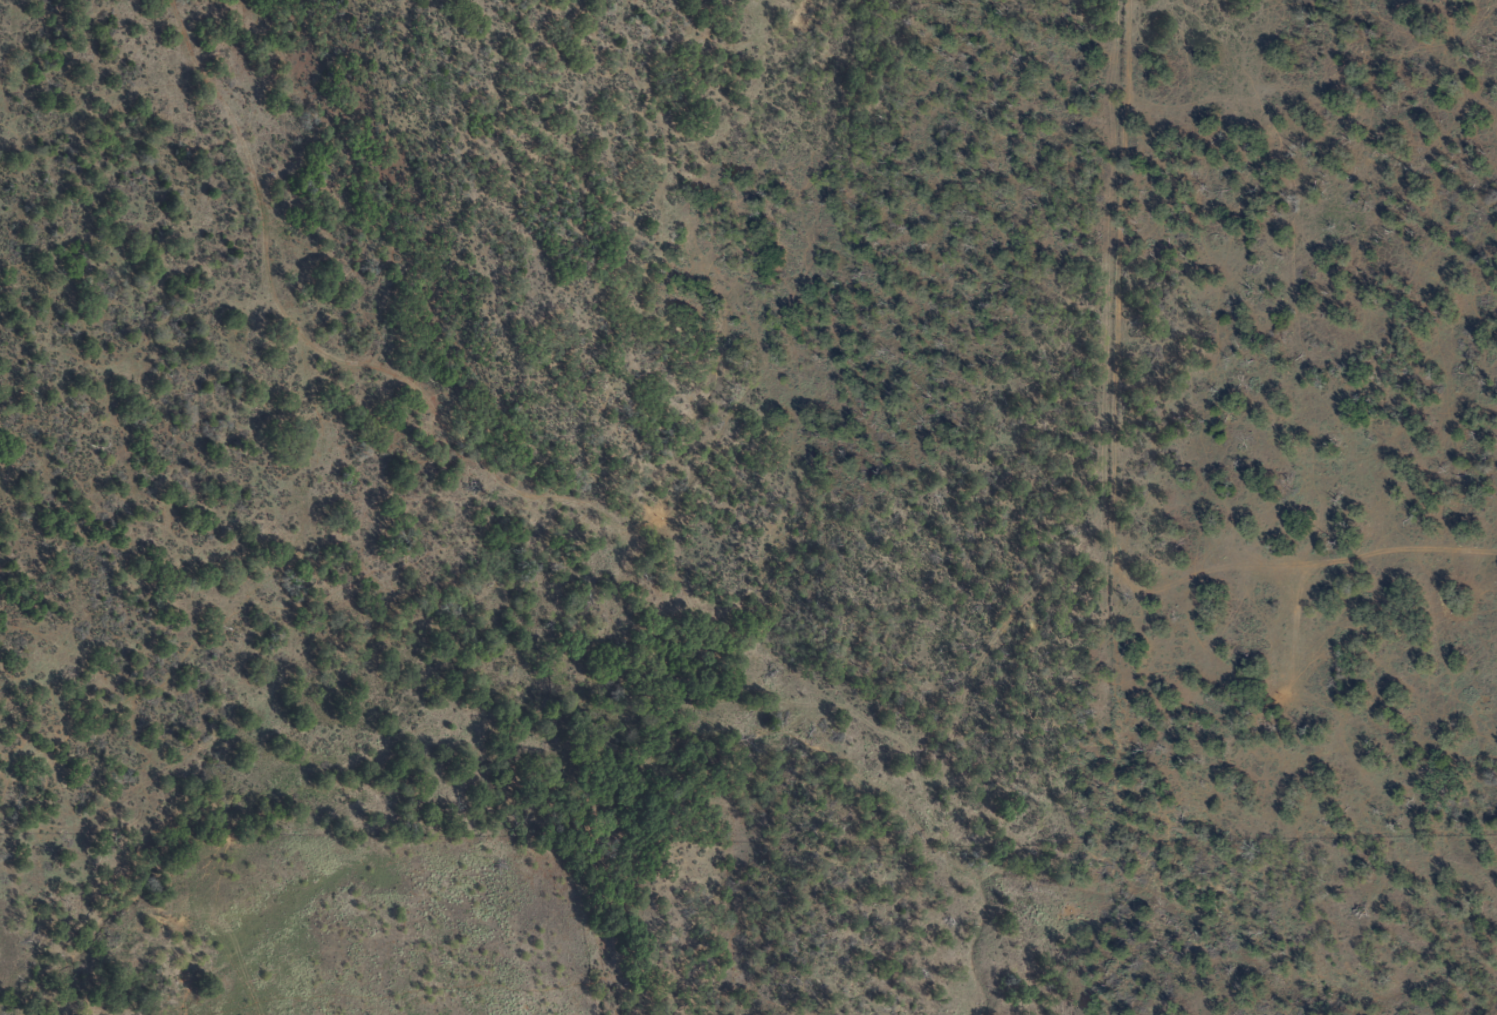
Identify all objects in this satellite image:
road: (1319, 504)

